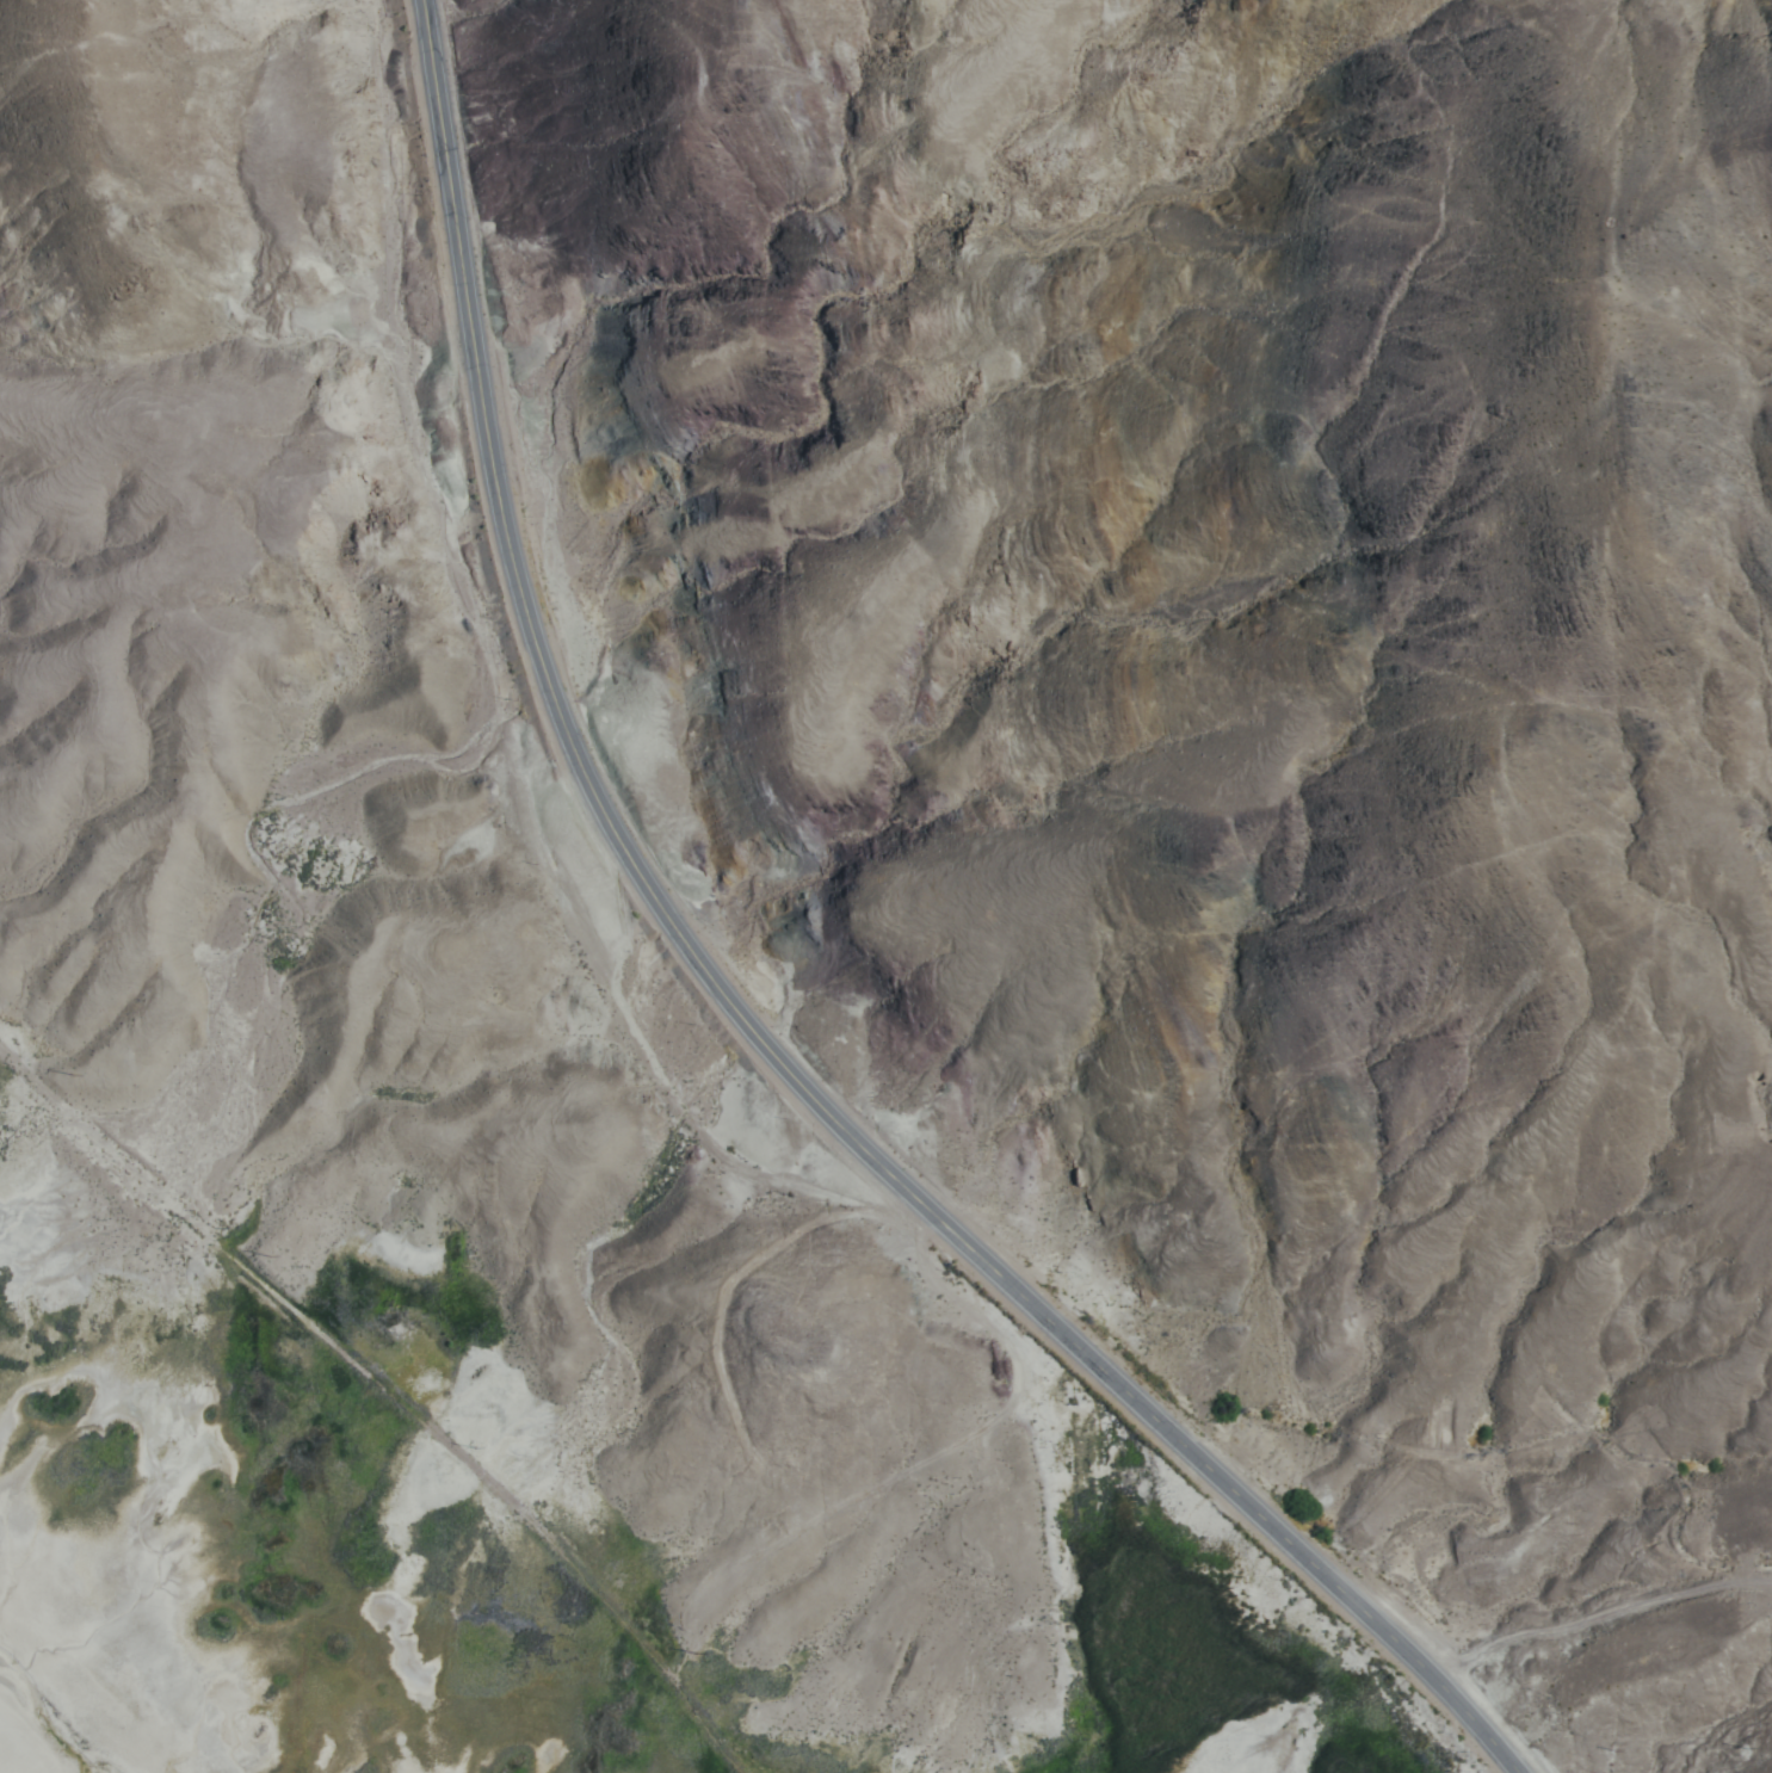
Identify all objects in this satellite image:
road: (740, 1017)
road: (760, 1252)
road: (802, 1252)
road: (958, 1437)
road: (1598, 1618)

